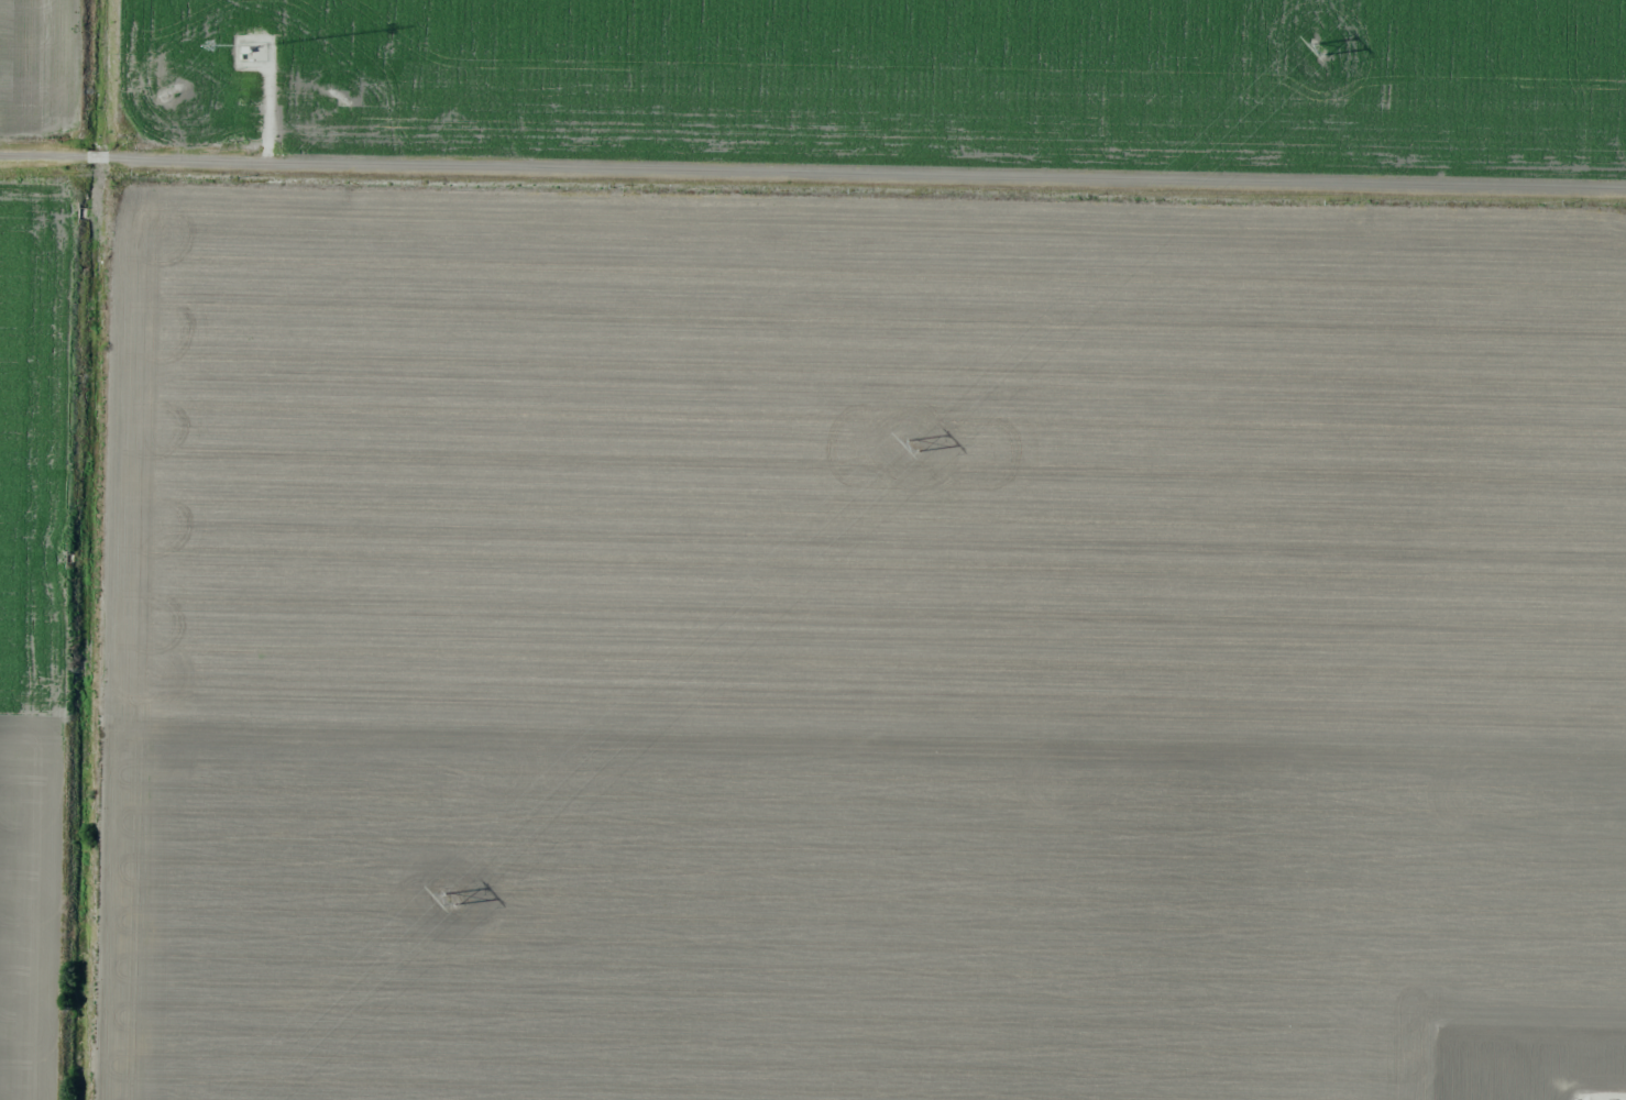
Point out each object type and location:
power tower: (1322, 47)
road: (813, 166)
power tower: (914, 442)
power tower: (455, 899)

